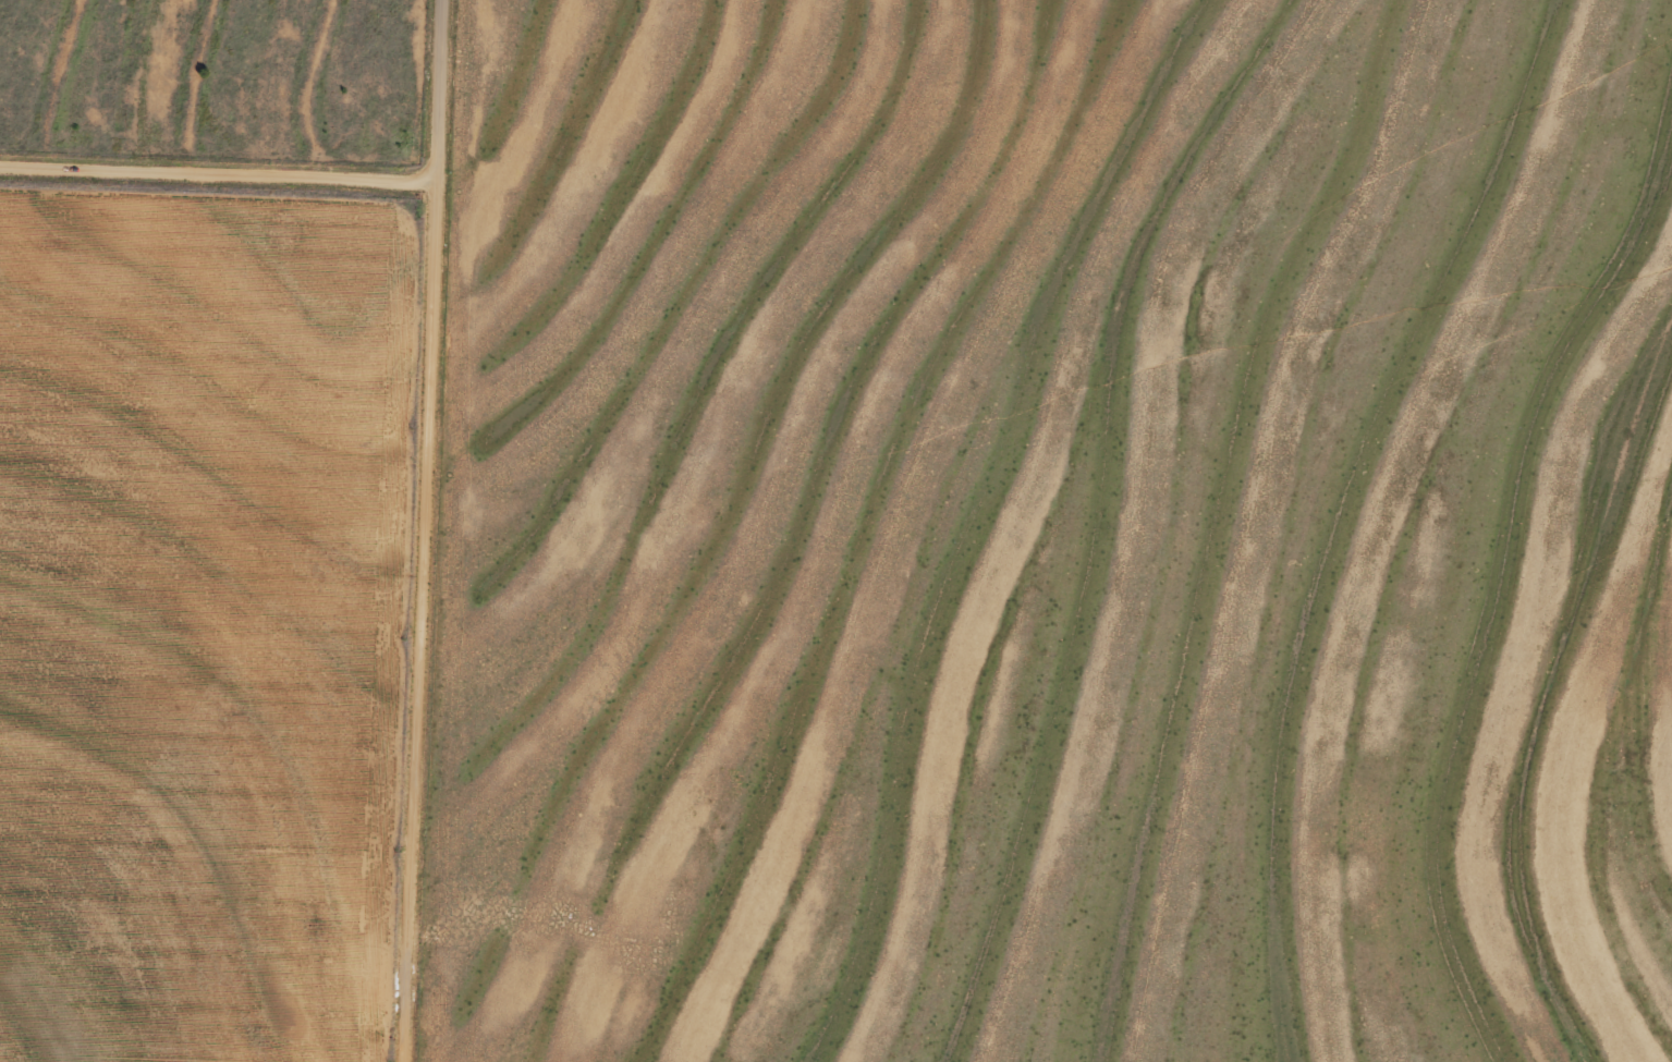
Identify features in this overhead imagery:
road: (118, 83)
road: (218, 169)
road: (424, 530)

